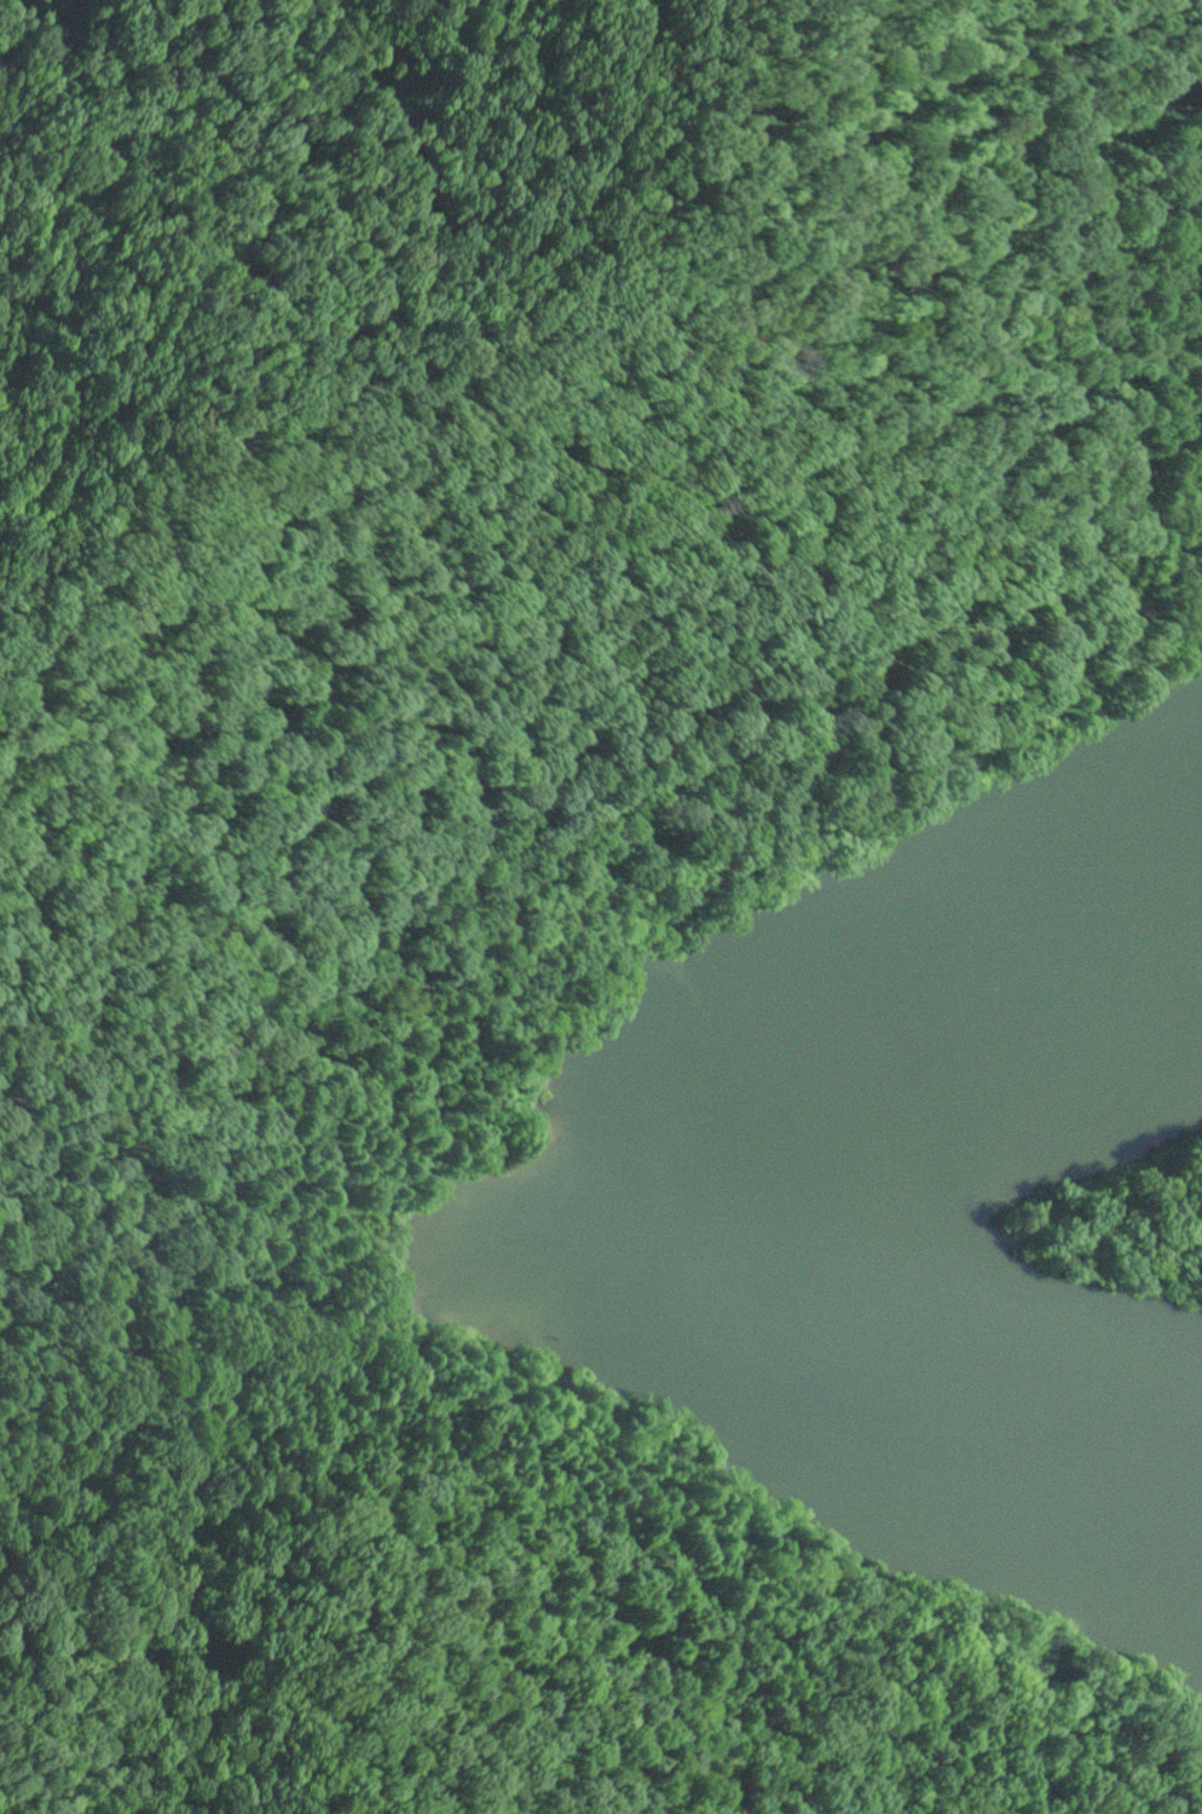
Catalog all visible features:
river: (896, 1218)

